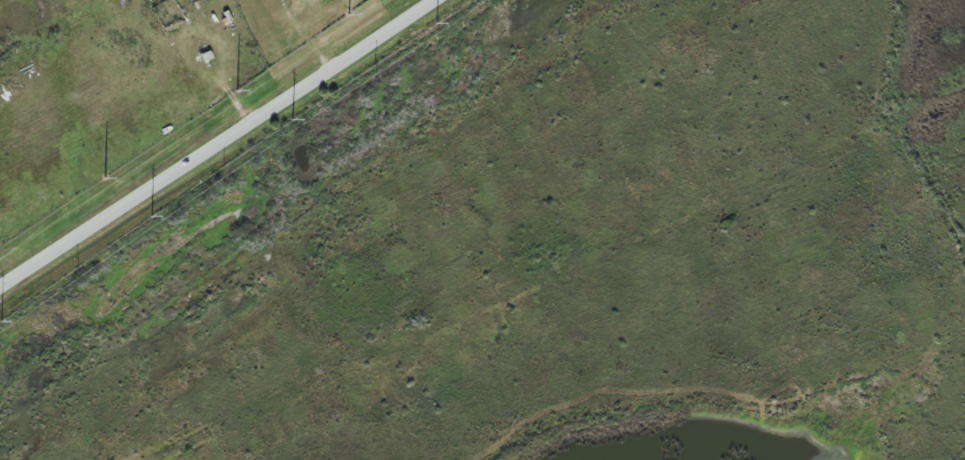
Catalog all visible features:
road: (218, 143)

